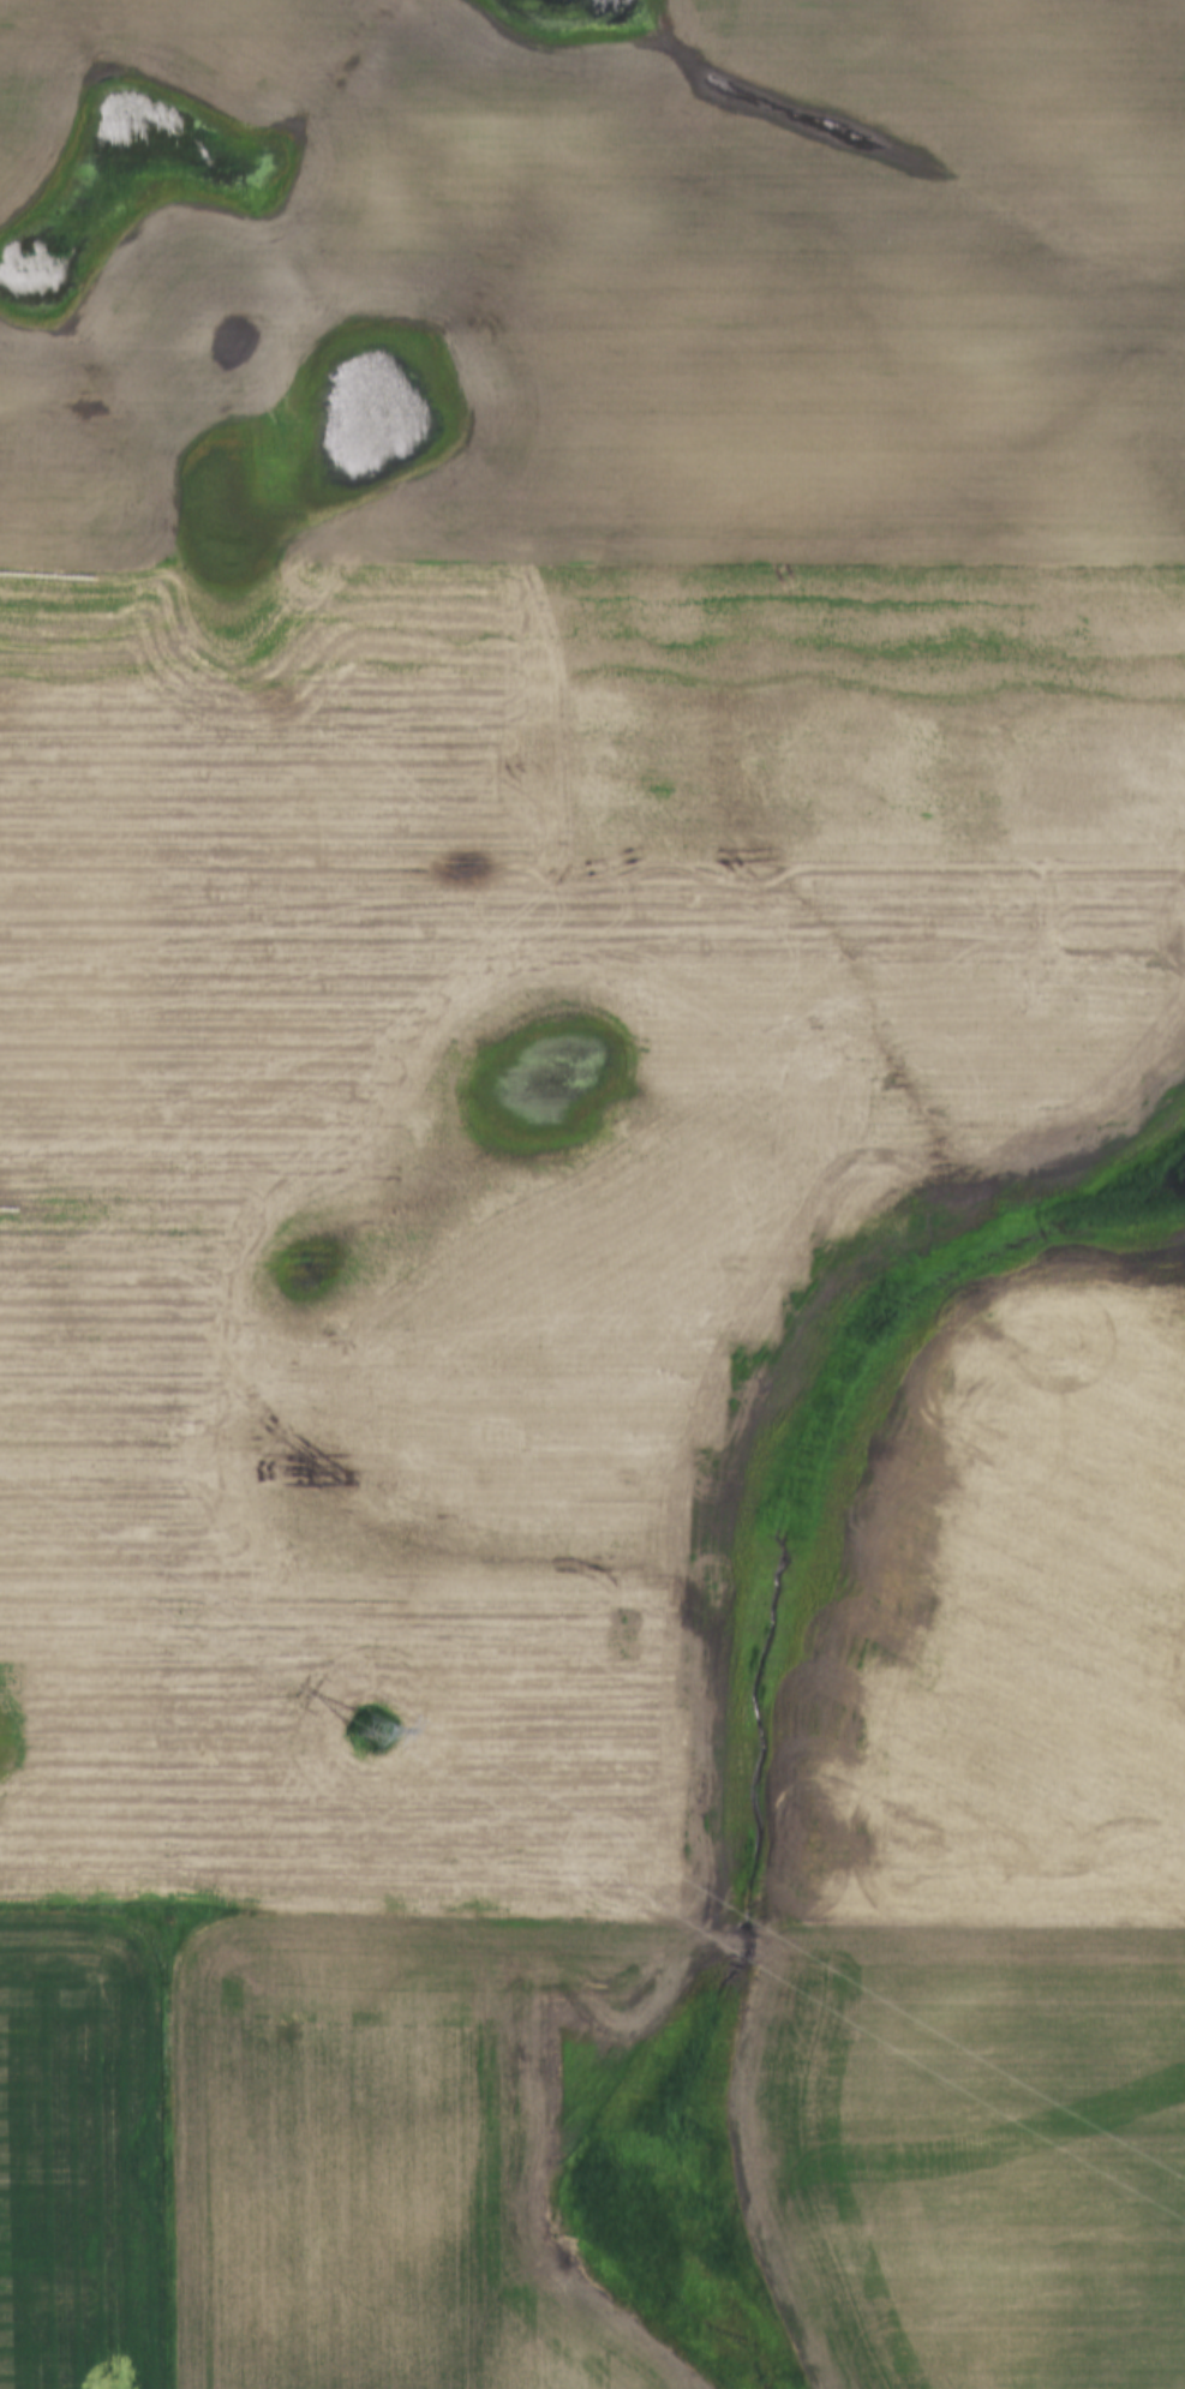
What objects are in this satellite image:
power tower: (372, 1736)

